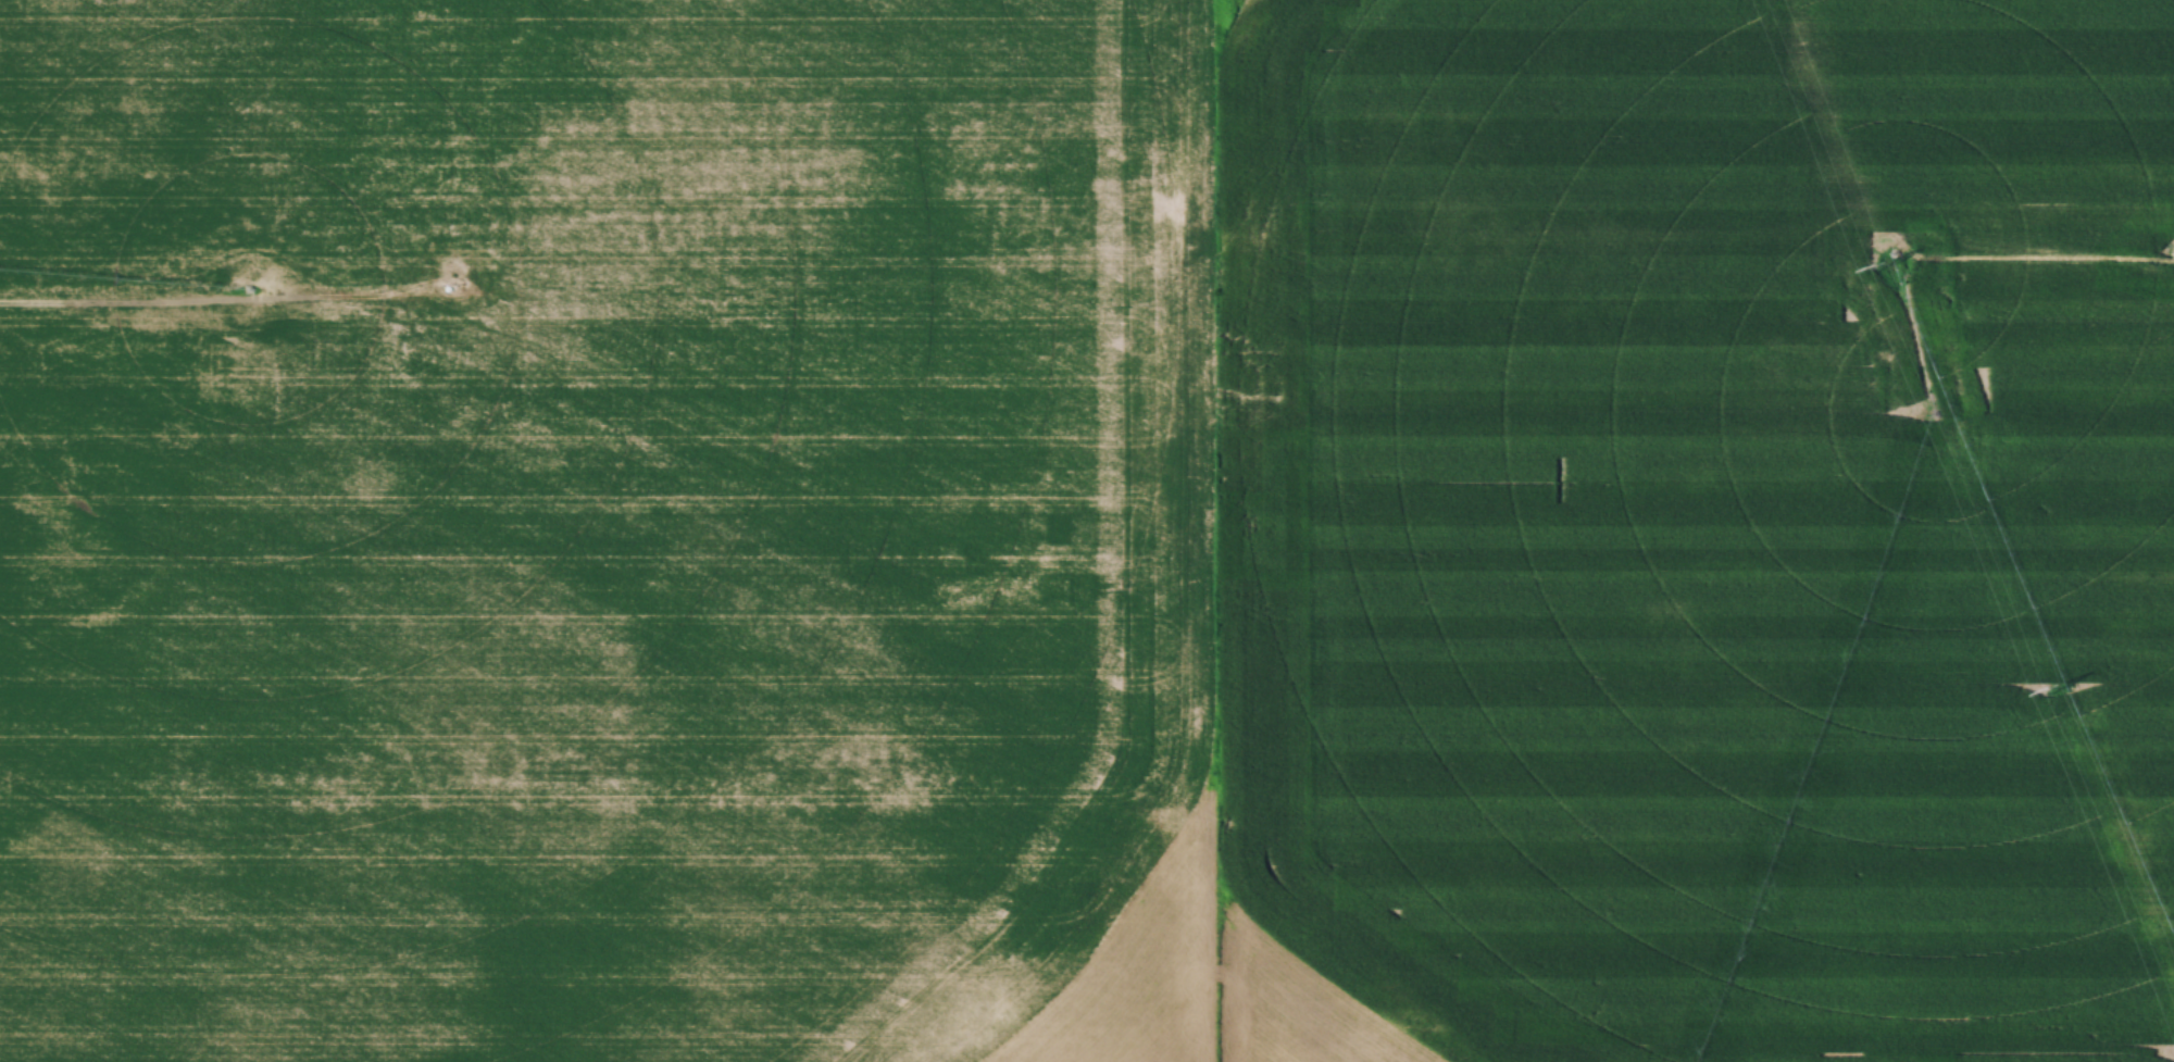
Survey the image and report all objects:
power tower: (1882, 267)
power tower: (2054, 692)

